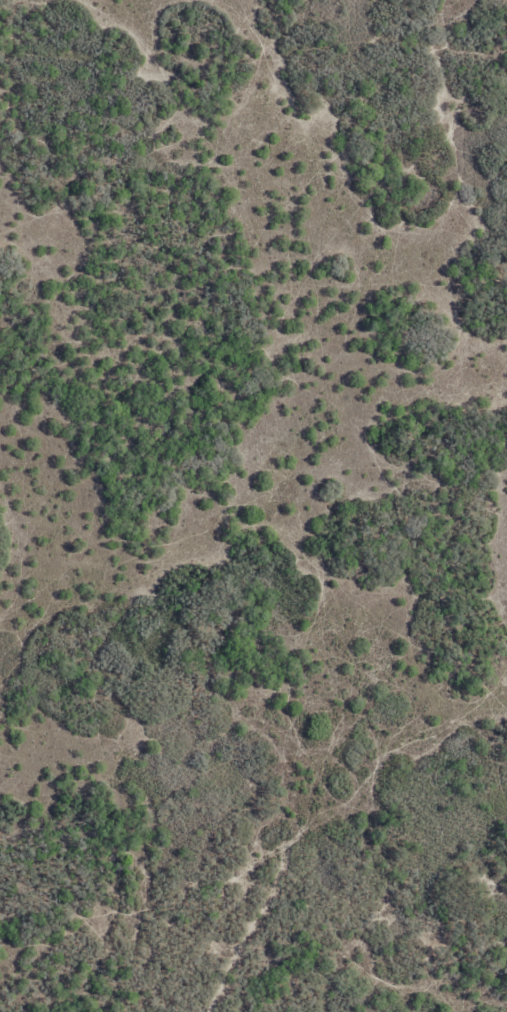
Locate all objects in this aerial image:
road: (105, 719)

